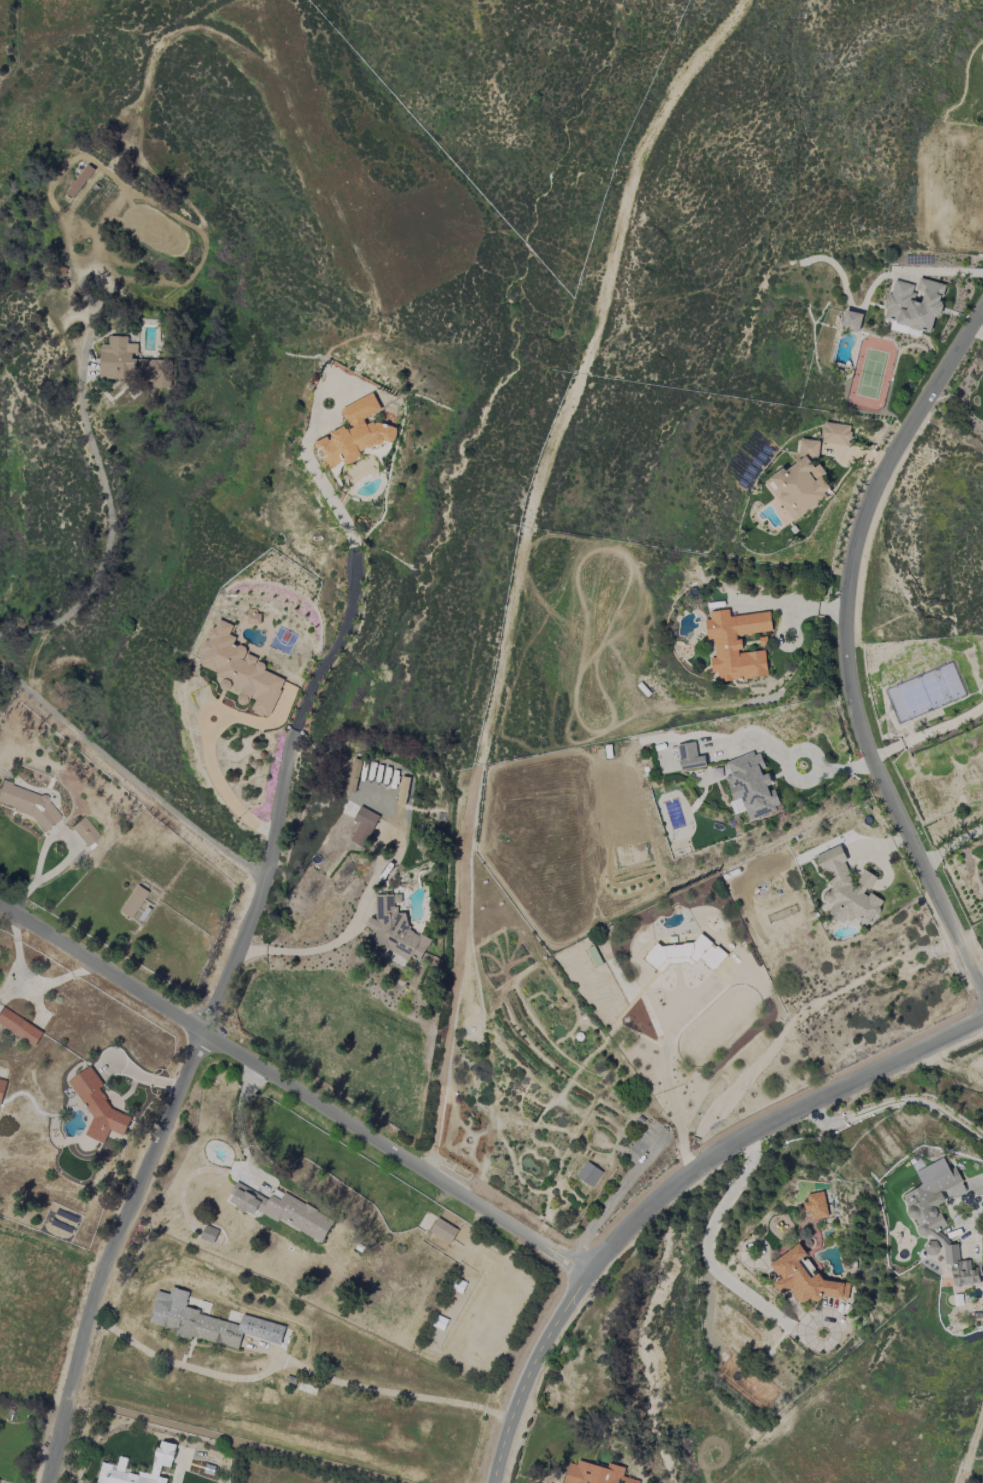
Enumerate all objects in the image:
building: (915, 304)
building: (851, 321)
road: (979, 326)
building: (132, 364)
building: (355, 434)
building: (836, 434)
building: (800, 482)
road: (103, 549)
road: (520, 566)
building: (736, 644)
road: (846, 648)
building: (240, 670)
road: (927, 733)
building: (690, 756)
road: (816, 762)
building: (353, 775)
road: (130, 776)
building: (751, 786)
building: (26, 802)
building: (363, 826)
building: (85, 831)
building: (848, 889)
building: (134, 901)
building: (395, 930)
road: (319, 950)
building: (685, 954)
road: (534, 968)
road: (214, 1021)
building: (19, 1027)
road: (579, 1028)
building: (579, 1038)
road: (491, 1062)
road: (584, 1062)
road: (663, 1065)
road: (580, 1066)
park: (528, 1070)
building: (455, 1078)
building: (2, 1088)
road: (293, 1091)
road: (548, 1092)
road: (519, 1095)
road: (919, 1098)
road: (533, 1101)
road: (920, 1103)
building: (98, 1107)
road: (634, 1107)
road: (631, 1114)
road: (622, 1117)
road: (825, 1119)
road: (590, 1127)
road: (557, 1129)
building: (638, 1129)
road: (531, 1136)
road: (671, 1138)
road: (569, 1144)
road: (548, 1145)
road: (586, 1146)
road: (626, 1147)
road: (566, 1150)
road: (484, 1158)
road: (609, 1170)
building: (589, 1174)
road: (516, 1177)
road: (556, 1183)
road: (584, 1189)
road: (675, 1189)
road: (588, 1195)
road: (972, 1198)
road: (565, 1204)
road: (589, 1204)
building: (816, 1206)
building: (282, 1211)
road: (604, 1214)
building: (938, 1216)
building: (443, 1230)
building: (209, 1233)
building: (932, 1248)
road: (709, 1260)
building: (804, 1278)
building: (209, 1322)
road: (294, 1362)
building: (165, 1454)
building: (594, 1474)
building: (123, 1476)

